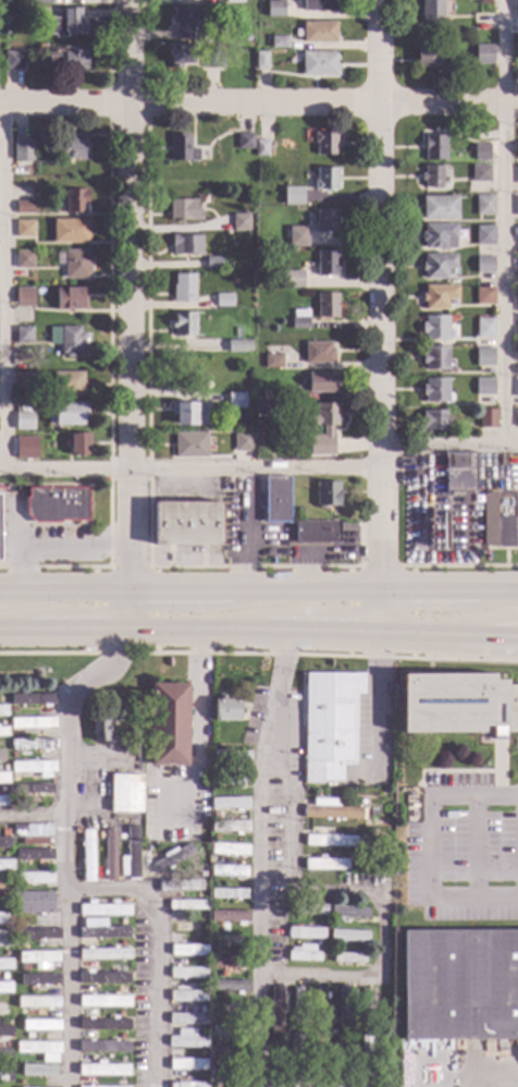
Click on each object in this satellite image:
building: (39, 1)
building: (234, 1)
building: (483, 2)
building: (318, 5)
building: (516, 8)
building: (274, 9)
building: (431, 11)
building: (183, 22)
building: (65, 24)
building: (318, 33)
building: (247, 38)
building: (279, 41)
building: (483, 54)
building: (180, 57)
building: (64, 58)
building: (428, 58)
building: (294, 59)
building: (12, 60)
building: (210, 60)
building: (260, 61)
building: (319, 63)
road: (259, 105)
building: (244, 141)
building: (325, 143)
building: (517, 145)
building: (17, 147)
building: (260, 147)
building: (433, 147)
building: (72, 149)
building: (181, 149)
building: (480, 151)
building: (480, 173)
building: (517, 175)
building: (432, 176)
building: (325, 179)
building: (292, 196)
building: (75, 200)
building: (483, 205)
building: (516, 206)
building: (439, 207)
building: (23, 208)
building: (183, 210)
road: (505, 220)
building: (325, 221)
building: (239, 222)
building: (23, 229)
building: (69, 232)
building: (517, 234)
building: (483, 235)
building: (297, 236)
building: (439, 236)
building: (185, 245)
building: (23, 259)
building: (212, 262)
building: (73, 264)
building: (325, 264)
building: (483, 265)
building: (436, 266)
building: (516, 266)
building: (291, 280)
road: (2, 288)
building: (183, 289)
building: (515, 294)
road: (131, 296)
road: (382, 296)
building: (437, 296)
building: (483, 296)
building: (23, 297)
building: (67, 300)
building: (223, 300)
building: (325, 305)
building: (298, 319)
building: (183, 325)
building: (434, 328)
building: (484, 329)
building: (516, 329)
building: (22, 334)
building: (66, 339)
building: (237, 346)
building: (318, 353)
building: (483, 356)
building: (434, 358)
building: (272, 362)
building: (516, 369)
building: (22, 380)
building: (320, 382)
building: (66, 383)
building: (516, 386)
building: (483, 387)
building: (435, 390)
building: (264, 395)
building: (235, 401)
building: (256, 404)
building: (69, 414)
building: (189, 414)
building: (516, 417)
building: (486, 418)
building: (432, 420)
building: (23, 422)
building: (322, 429)
building: (242, 441)
road: (449, 442)
building: (76, 444)
building: (189, 444)
building: (17, 450)
road: (190, 471)
building: (458, 473)
building: (325, 493)
building: (275, 500)
building: (55, 504)
building: (299, 510)
building: (499, 518)
road: (15, 520)
building: (185, 524)
road: (240, 532)
building: (316, 532)
road: (54, 549)
road: (344, 549)
road: (305, 572)
road: (431, 591)
road: (499, 591)
road: (305, 593)
road: (22, 594)
road: (86, 594)
road: (180, 594)
road: (128, 611)
road: (381, 612)
road: (485, 624)
road: (9, 628)
road: (73, 628)
road: (196, 630)
road: (322, 631)
road: (419, 634)
road: (488, 637)
building: (84, 650)
road: (372, 696)
building: (1, 699)
building: (33, 699)
building: (457, 705)
building: (12, 709)
building: (224, 709)
building: (3, 710)
road: (196, 716)
building: (329, 721)
building: (2, 723)
building: (32, 723)
building: (168, 724)
building: (101, 730)
building: (3, 732)
building: (286, 737)
building: (32, 744)
building: (1, 747)
building: (13, 755)
building: (230, 756)
building: (0, 757)
building: (293, 759)
building: (33, 768)
building: (1, 769)
building: (13, 777)
building: (3, 779)
building: (229, 779)
building: (30, 789)
building: (2, 790)
building: (125, 794)
building: (14, 798)
building: (2, 802)
building: (229, 804)
building: (330, 810)
building: (367, 811)
road: (32, 815)
building: (229, 827)
building: (76, 830)
building: (366, 831)
building: (5, 832)
building: (32, 833)
building: (100, 835)
building: (120, 836)
building: (214, 838)
building: (329, 841)
building: (5, 843)
road: (64, 844)
road: (429, 846)
road: (473, 846)
building: (147, 848)
building: (229, 850)
parking lot: (464, 850)
building: (5, 854)
building: (32, 854)
building: (109, 855)
building: (129, 855)
building: (87, 856)
building: (367, 856)
road: (257, 857)
building: (171, 858)
building: (218, 860)
building: (349, 862)
building: (325, 864)
building: (17, 865)
building: (5, 866)
building: (229, 870)
building: (201, 875)
building: (7, 878)
building: (34, 878)
building: (180, 886)
building: (4, 887)
building: (21, 889)
building: (227, 893)
building: (124, 901)
building: (33, 902)
building: (186, 905)
building: (214, 905)
building: (306, 908)
building: (103, 909)
building: (347, 912)
building: (229, 916)
building: (5, 918)
building: (202, 918)
building: (122, 921)
building: (319, 924)
building: (332, 924)
building: (187, 927)
building: (222, 927)
building: (11, 930)
building: (100, 930)
building: (305, 933)
building: (37, 935)
building: (347, 936)
road: (381, 937)
building: (227, 939)
building: (7, 940)
building: (122, 943)
building: (22, 945)
building: (319, 946)
road: (157, 948)
building: (214, 950)
building: (188, 951)
building: (7, 953)
building: (303, 953)
building: (103, 954)
building: (329, 955)
building: (347, 957)
building: (38, 958)
building: (227, 962)
building: (202, 963)
building: (7, 965)
building: (24, 967)
building: (121, 968)
building: (186, 973)
building: (221, 974)
building: (3, 976)
building: (102, 978)
building: (39, 979)
building: (199, 985)
building: (459, 985)
building: (229, 986)
building: (5, 988)
building: (24, 990)
building: (121, 991)
building: (186, 997)
building: (5, 999)
building: (103, 1001)
building: (38, 1003)
building: (319, 1005)
building: (274, 1006)
building: (296, 1006)
building: (226, 1007)
building: (343, 1007)
building: (365, 1009)
building: (5, 1010)
building: (201, 1010)
building: (288, 1010)
building: (22, 1012)
building: (121, 1014)
building: (213, 1016)
building: (187, 1018)
building: (354, 1021)
building: (332, 1022)
building: (379, 1022)
building: (10, 1023)
building: (103, 1024)
building: (40, 1026)
building: (227, 1029)
building: (7, 1031)
building: (306, 1031)
building: (332, 1031)
building: (202, 1034)
building: (285, 1036)
building: (121, 1037)
building: (186, 1039)
building: (380, 1039)
building: (5, 1042)
building: (102, 1047)
building: (37, 1048)
building: (4, 1053)
building: (201, 1053)
building: (229, 1054)
building: (295, 1054)
building: (317, 1055)
building: (341, 1058)
building: (365, 1058)
building: (122, 1060)
building: (214, 1063)
building: (186, 1064)
building: (7, 1066)
building: (37, 1070)
building: (103, 1070)
building: (5, 1075)
building: (227, 1076)
road: (505, 1077)
building: (20, 1083)
building: (122, 1083)
building: (186, 1084)
building: (215, 1085)
building: (89, 1086)
building: (114, 1086)

